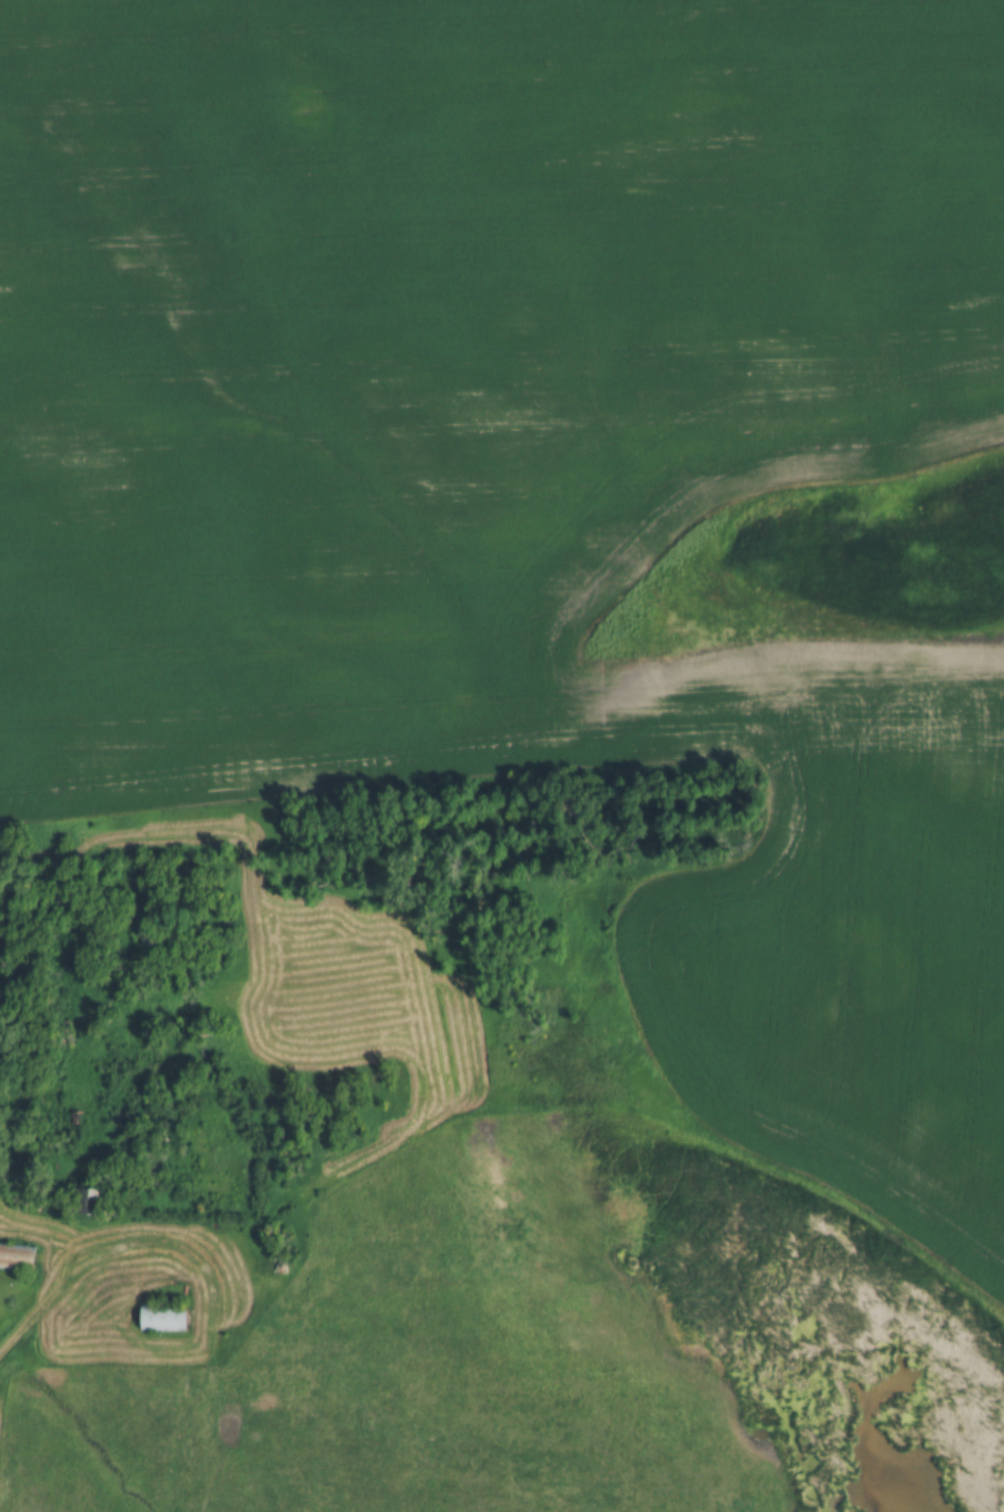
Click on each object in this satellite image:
building: (92, 1203)
building: (19, 1257)
road: (62, 1281)
building: (166, 1318)

